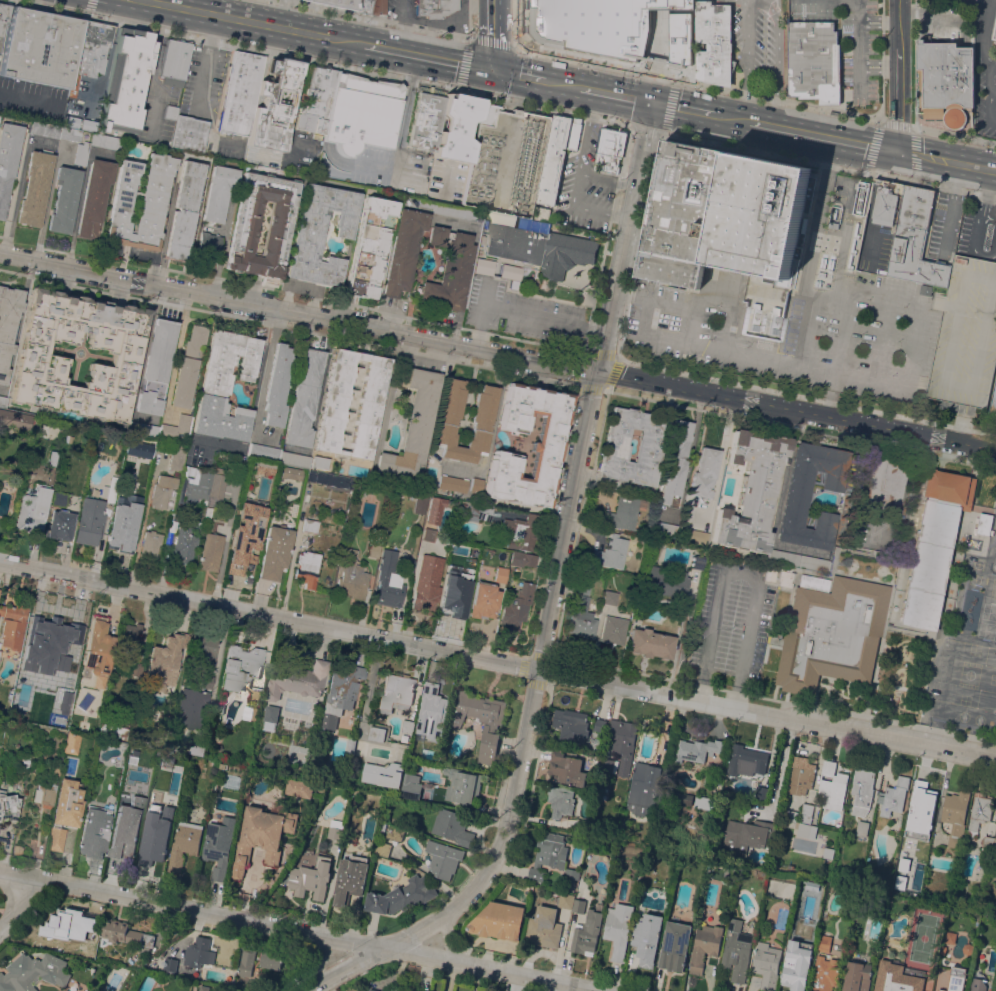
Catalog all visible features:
building: (336, 3)
building: (371, 6)
building: (434, 7)
parking lot: (401, 10)
road: (401, 12)
road: (279, 13)
building: (995, 13)
road: (470, 18)
road: (372, 19)
road: (516, 20)
building: (3, 21)
road: (255, 21)
road: (985, 30)
building: (994, 30)
road: (492, 33)
road: (399, 37)
parking lot: (847, 37)
road: (469, 39)
building: (713, 41)
parking lot: (754, 45)
building: (40, 47)
building: (90, 52)
road: (426, 55)
road: (661, 56)
building: (175, 59)
road: (745, 59)
road: (992, 59)
road: (880, 60)
road: (203, 61)
road: (321, 61)
road: (776, 61)
building: (814, 61)
traffic signals: (488, 67)
parking lot: (984, 71)
road: (153, 73)
road: (517, 73)
road: (898, 75)
building: (126, 80)
road: (563, 82)
building: (945, 82)
road: (697, 84)
road: (992, 90)
building: (240, 92)
road: (615, 93)
road: (989, 93)
building: (316, 99)
traffic signals: (651, 101)
building: (274, 106)
road: (682, 106)
road: (913, 108)
building: (170, 112)
building: (362, 113)
road: (404, 114)
building: (486, 114)
building: (0, 116)
road: (731, 116)
building: (426, 118)
building: (72, 119)
road: (664, 119)
road: (896, 122)
building: (90, 127)
building: (456, 128)
building: (44, 129)
building: (69, 133)
building: (189, 133)
road: (822, 135)
building: (105, 141)
building: (609, 147)
building: (81, 153)
building: (557, 155)
road: (921, 155)
building: (8, 158)
power substation: (508, 163)
road: (828, 165)
road: (971, 166)
road: (576, 176)
road: (605, 179)
parking lot: (584, 186)
building: (35, 187)
building: (218, 192)
building: (94, 198)
building: (64, 199)
building: (140, 202)
building: (887, 202)
road: (950, 207)
building: (184, 210)
building: (453, 210)
building: (542, 213)
building: (682, 213)
building: (757, 215)
building: (278, 221)
building: (554, 225)
road: (609, 225)
parking lot: (940, 228)
parking lot: (977, 230)
building: (320, 232)
building: (436, 235)
building: (482, 239)
building: (915, 240)
building: (209, 242)
parking lot: (875, 242)
road: (222, 245)
building: (370, 246)
building: (540, 248)
building: (403, 251)
building: (484, 266)
building: (511, 274)
building: (450, 275)
building: (926, 289)
parking lot: (811, 311)
road: (525, 314)
parking lot: (523, 315)
building: (8, 326)
parking lot: (965, 334)
building: (966, 335)
road: (723, 350)
road: (497, 353)
building: (38, 356)
building: (156, 366)
building: (188, 367)
road: (694, 375)
building: (225, 385)
building: (278, 385)
road: (391, 390)
building: (304, 397)
building: (3, 401)
building: (993, 403)
parking lot: (993, 403)
building: (369, 405)
building: (15, 418)
building: (482, 419)
building: (413, 423)
building: (176, 427)
building: (144, 429)
building: (68, 438)
building: (545, 446)
building: (263, 451)
building: (647, 452)
building: (53, 457)
building: (178, 457)
building: (294, 459)
building: (320, 462)
building: (675, 462)
building: (258, 465)
building: (291, 473)
building: (705, 473)
building: (330, 480)
building: (218, 482)
building: (197, 483)
building: (452, 483)
building: (877, 483)
building: (476, 485)
building: (111, 488)
building: (751, 489)
building: (162, 491)
building: (59, 498)
building: (796, 501)
building: (420, 503)
building: (136, 504)
building: (462, 506)
building: (293, 509)
building: (33, 510)
building: (207, 512)
building: (478, 512)
building: (623, 512)
building: (90, 520)
building: (59, 524)
building: (985, 524)
building: (243, 526)
building: (310, 526)
building: (856, 527)
building: (663, 528)
building: (520, 531)
building: (428, 534)
building: (694, 535)
building: (120, 536)
building: (151, 543)
building: (184, 544)
building: (935, 546)
building: (373, 550)
building: (275, 551)
building: (211, 552)
building: (611, 552)
building: (522, 558)
building: (248, 560)
building: (798, 560)
road: (221, 561)
building: (697, 561)
building: (408, 563)
building: (307, 567)
building: (500, 573)
building: (351, 575)
building: (387, 580)
building: (664, 580)
building: (813, 582)
building: (427, 583)
road: (757, 583)
building: (455, 589)
road: (553, 596)
building: (609, 597)
building: (484, 600)
building: (517, 604)
building: (581, 614)
road: (269, 619)
building: (55, 621)
building: (13, 623)
parking lot: (730, 627)
building: (613, 629)
building: (831, 634)
road: (680, 636)
building: (129, 638)
building: (650, 643)
building: (98, 647)
building: (202, 650)
building: (72, 659)
building: (162, 663)
building: (240, 667)
building: (135, 668)
building: (296, 678)
building: (202, 680)
building: (396, 692)
building: (340, 693)
building: (256, 695)
building: (191, 707)
building: (220, 708)
building: (429, 711)
road: (739, 712)
building: (54, 716)
building: (30, 717)
building: (269, 717)
building: (162, 720)
building: (600, 724)
building: (571, 725)
building: (490, 726)
building: (110, 729)
building: (377, 733)
building: (71, 743)
building: (623, 743)
building: (350, 745)
building: (194, 748)
building: (698, 749)
road: (968, 756)
building: (404, 757)
building: (747, 760)
building: (213, 763)
building: (24, 764)
building: (609, 764)
building: (223, 765)
building: (567, 767)
road: (779, 767)
building: (383, 773)
building: (800, 775)
building: (158, 783)
building: (716, 783)
building: (411, 786)
building: (462, 786)
building: (832, 786)
building: (299, 788)
building: (643, 788)
building: (862, 790)
building: (44, 793)
building: (761, 793)
building: (893, 796)
building: (683, 798)
building: (560, 801)
building: (703, 802)
building: (8, 805)
building: (919, 808)
building: (122, 809)
building: (64, 812)
building: (806, 812)
building: (979, 812)
building: (790, 815)
building: (956, 815)
building: (581, 825)
building: (452, 826)
building: (382, 828)
building: (862, 828)
building: (160, 829)
building: (335, 829)
building: (806, 830)
building: (94, 832)
building: (395, 833)
building: (748, 835)
building: (262, 836)
building: (987, 841)
building: (995, 843)
building: (185, 844)
building: (124, 845)
building: (219, 845)
building: (383, 848)
building: (17, 850)
building: (828, 853)
building: (552, 858)
building: (443, 859)
building: (773, 864)
building: (311, 878)
building: (350, 879)
building: (401, 896)
building: (566, 900)
building: (579, 905)
road: (24, 909)
building: (499, 921)
building: (71, 927)
building: (544, 929)
building: (618, 929)
road: (287, 931)
building: (125, 933)
building: (587, 933)
building: (646, 937)
building: (950, 937)
building: (824, 943)
road: (447, 946)
building: (675, 946)
building: (705, 946)
building: (736, 950)
building: (943, 950)
building: (199, 952)
building: (270, 958)
building: (796, 959)
building: (248, 963)
building: (170, 964)
building: (767, 964)
building: (35, 972)
building: (825, 974)
building: (857, 976)
building: (896, 978)
building: (956, 979)
building: (977, 984)
building: (204, 988)
building: (373, 989)
building: (412, 990)

